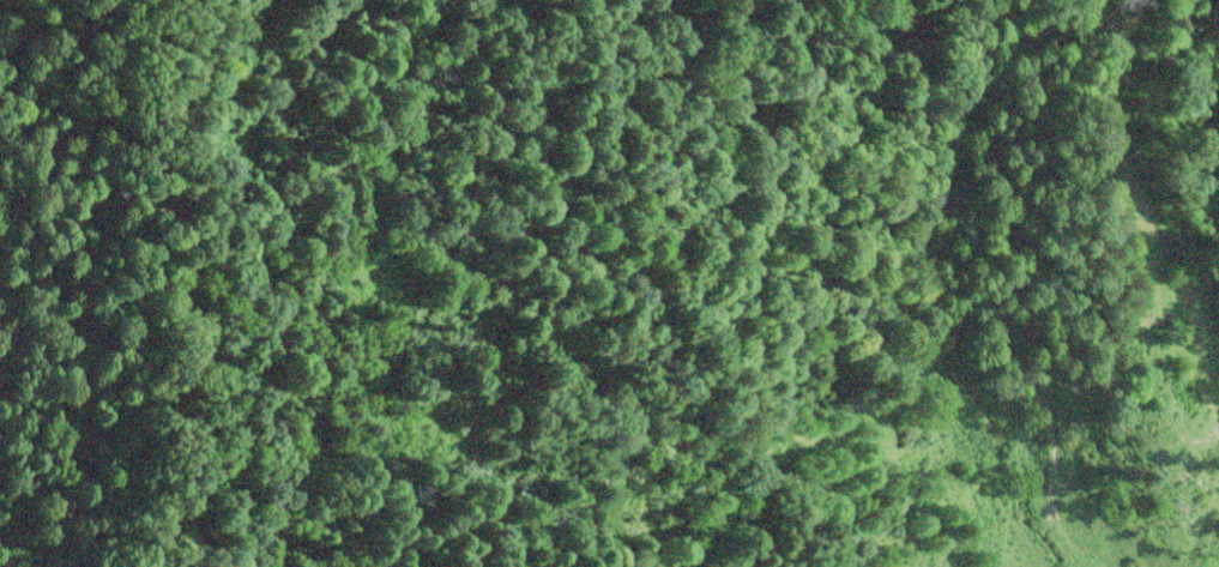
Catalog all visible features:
road: (1010, 281)

